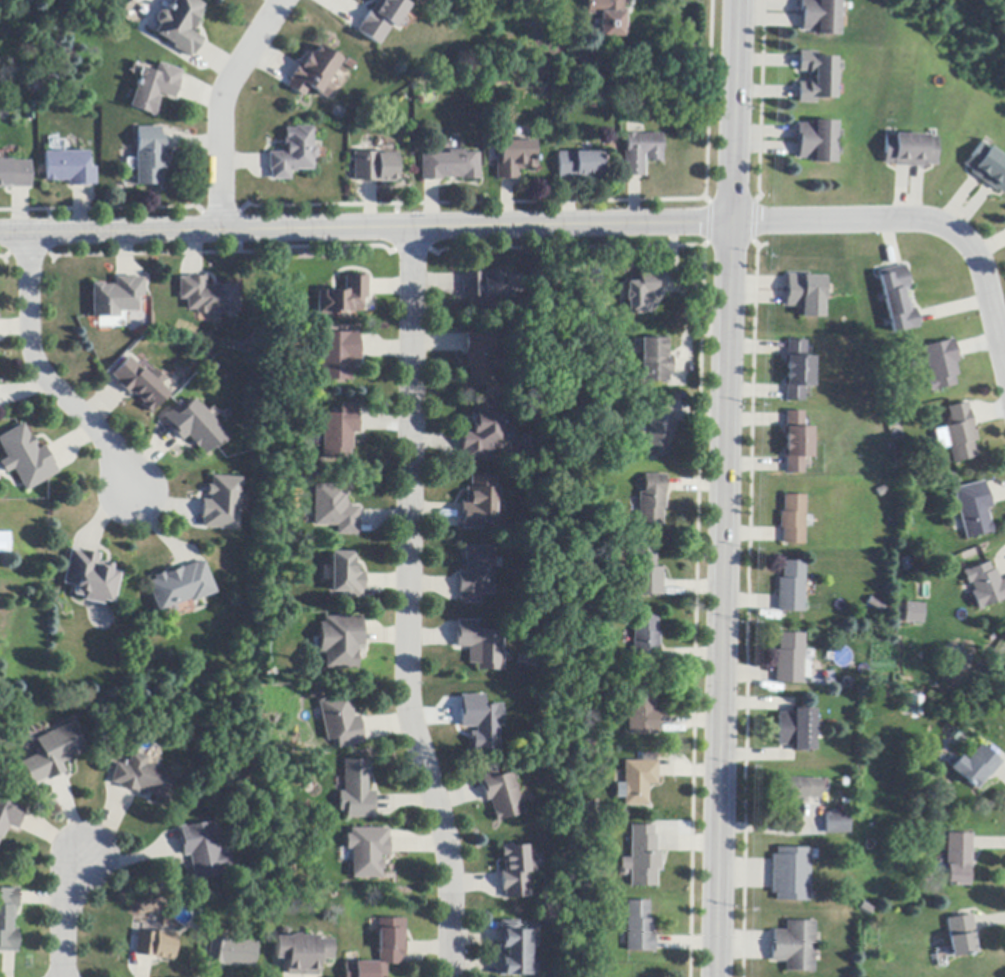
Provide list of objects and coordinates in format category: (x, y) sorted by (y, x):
building: (608, 16)
building: (820, 16)
building: (379, 18)
building: (180, 26)
building: (312, 73)
building: (816, 77)
building: (155, 87)
building: (490, 91)
road: (220, 106)
building: (816, 141)
building: (909, 150)
building: (640, 153)
building: (291, 154)
building: (150, 156)
building: (514, 159)
building: (580, 165)
building: (450, 166)
building: (374, 167)
building: (987, 167)
building: (69, 168)
building: (14, 174)
road: (917, 221)
road: (364, 228)
building: (483, 285)
building: (642, 292)
building: (806, 294)
building: (208, 296)
building: (117, 297)
building: (344, 297)
building: (897, 299)
building: (338, 355)
building: (480, 358)
building: (655, 361)
building: (942, 365)
building: (798, 371)
road: (43, 375)
building: (141, 384)
building: (195, 427)
building: (659, 429)
building: (340, 432)
building: (481, 433)
building: (961, 434)
building: (796, 443)
building: (26, 458)
road: (723, 488)
building: (651, 500)
building: (479, 503)
building: (220, 504)
building: (335, 509)
building: (974, 510)
building: (793, 520)
building: (5, 544)
building: (646, 572)
building: (476, 574)
building: (345, 576)
building: (90, 577)
building: (179, 586)
building: (986, 586)
building: (791, 588)
road: (410, 605)
building: (876, 605)
building: (915, 614)
building: (647, 640)
building: (340, 642)
building: (480, 646)
building: (790, 659)
building: (985, 674)
building: (643, 712)
building: (479, 720)
building: (340, 722)
building: (797, 730)
building: (52, 754)
building: (977, 767)
building: (142, 778)
building: (637, 782)
building: (800, 789)
building: (356, 791)
building: (501, 796)
building: (592, 807)
building: (10, 814)
building: (838, 824)
building: (201, 850)
building: (367, 851)
building: (644, 857)
building: (959, 859)
building: (516, 871)
building: (791, 874)
road: (65, 917)
building: (8, 920)
building: (639, 927)
building: (961, 936)
building: (155, 945)
building: (795, 946)
building: (383, 950)
building: (515, 950)
building: (231, 952)
building: (301, 953)

